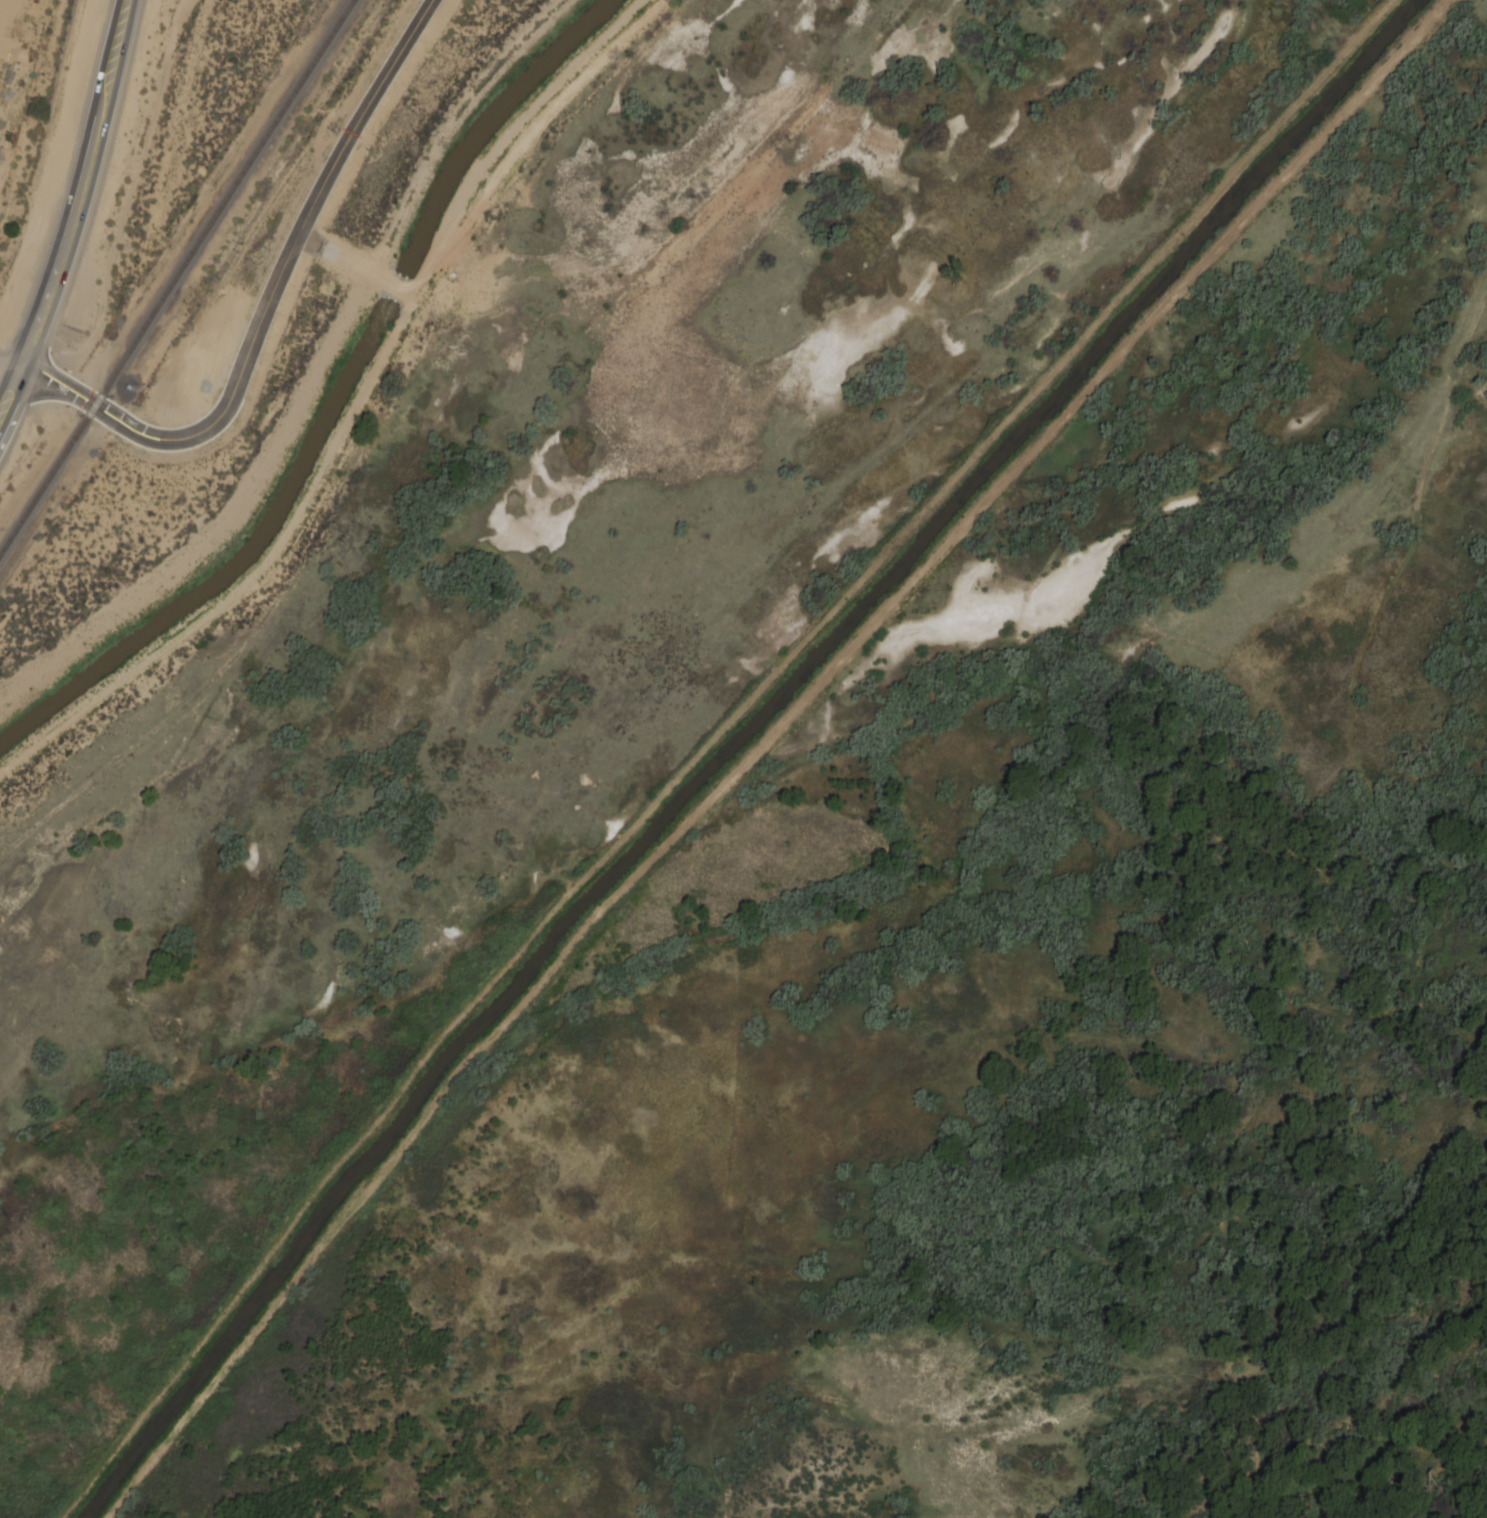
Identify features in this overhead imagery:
road: (79, 206)
railway: (176, 277)
road: (267, 304)
road: (11, 362)

